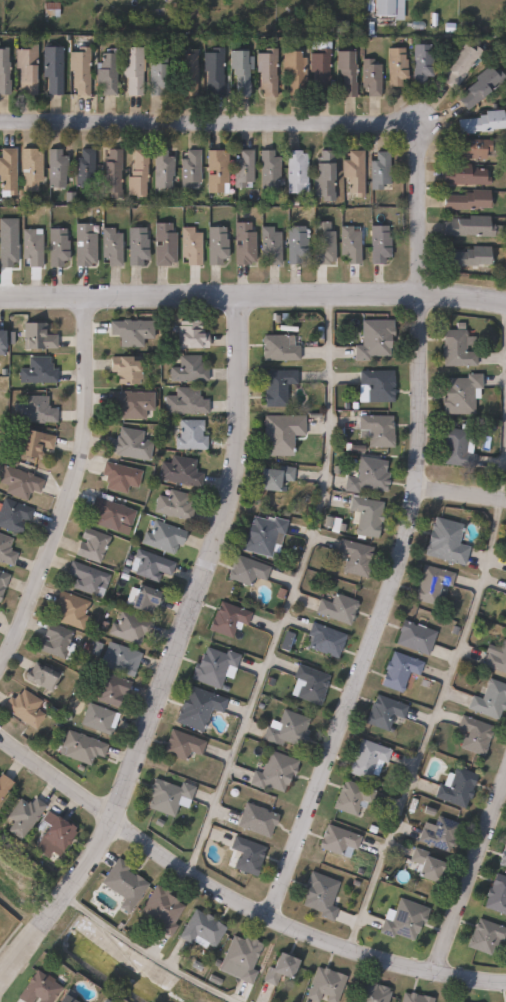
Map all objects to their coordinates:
building: (382, 7)
building: (48, 9)
building: (419, 63)
building: (458, 65)
building: (394, 66)
building: (30, 68)
building: (129, 69)
building: (238, 69)
building: (55, 70)
building: (78, 70)
building: (183, 71)
building: (210, 71)
building: (264, 71)
building: (343, 71)
building: (6, 73)
building: (103, 73)
building: (317, 73)
building: (291, 74)
building: (152, 76)
building: (368, 76)
building: (479, 86)
road: (291, 122)
building: (478, 123)
building: (468, 148)
building: (53, 168)
building: (81, 168)
building: (187, 168)
building: (27, 169)
building: (159, 169)
building: (240, 169)
building: (265, 169)
building: (377, 170)
building: (5, 171)
building: (214, 171)
building: (108, 172)
building: (293, 172)
building: (135, 173)
building: (351, 173)
building: (463, 174)
building: (321, 176)
building: (465, 200)
building: (467, 226)
building: (241, 243)
building: (320, 243)
building: (376, 243)
building: (6, 244)
building: (160, 244)
building: (347, 244)
building: (80, 245)
building: (187, 245)
building: (267, 245)
building: (293, 245)
building: (108, 246)
building: (133, 246)
building: (213, 246)
building: (28, 247)
building: (54, 247)
building: (466, 257)
road: (253, 294)
building: (128, 331)
building: (37, 335)
building: (188, 335)
building: (371, 339)
building: (4, 340)
building: (275, 348)
building: (455, 349)
building: (124, 369)
building: (37, 370)
building: (186, 370)
building: (374, 384)
building: (275, 386)
building: (459, 394)
road: (505, 395)
building: (183, 402)
road: (505, 402)
building: (128, 404)
building: (35, 409)
building: (374, 430)
building: (278, 434)
building: (188, 435)
building: (37, 442)
building: (126, 444)
building: (455, 449)
building: (179, 470)
building: (121, 476)
building: (366, 476)
road: (71, 478)
building: (271, 478)
building: (21, 481)
road: (460, 489)
building: (177, 504)
building: (114, 514)
building: (15, 515)
building: (365, 515)
building: (261, 535)
building: (166, 536)
building: (444, 540)
building: (94, 544)
building: (7, 549)
building: (353, 556)
building: (151, 565)
building: (244, 569)
building: (88, 577)
building: (4, 583)
building: (429, 583)
road: (294, 589)
building: (150, 598)
building: (335, 607)
building: (74, 609)
road: (381, 611)
building: (225, 618)
building: (132, 627)
building: (413, 636)
building: (323, 639)
building: (58, 640)
road: (170, 652)
building: (495, 656)
building: (123, 659)
building: (212, 667)
building: (397, 670)
building: (44, 676)
building: (308, 683)
building: (112, 688)
building: (488, 699)
building: (195, 706)
building: (27, 708)
building: (382, 711)
building: (101, 718)
road: (427, 722)
building: (285, 728)
building: (471, 734)
building: (179, 744)
building: (84, 747)
building: (365, 758)
building: (272, 771)
building: (5, 786)
building: (454, 786)
building: (165, 795)
building: (350, 797)
building: (27, 816)
building: (254, 819)
building: (438, 833)
building: (59, 838)
building: (336, 839)
building: (502, 854)
building: (245, 855)
building: (423, 864)
road: (468, 870)
building: (121, 883)
road: (235, 895)
building: (318, 895)
building: (496, 895)
building: (160, 909)
building: (401, 919)
building: (199, 929)
building: (484, 935)
road: (144, 952)
building: (238, 958)
building: (276, 968)
building: (323, 985)
building: (35, 989)
building: (370, 992)
building: (62, 996)
building: (413, 998)
building: (451, 1001)
building: (458, 1001)

